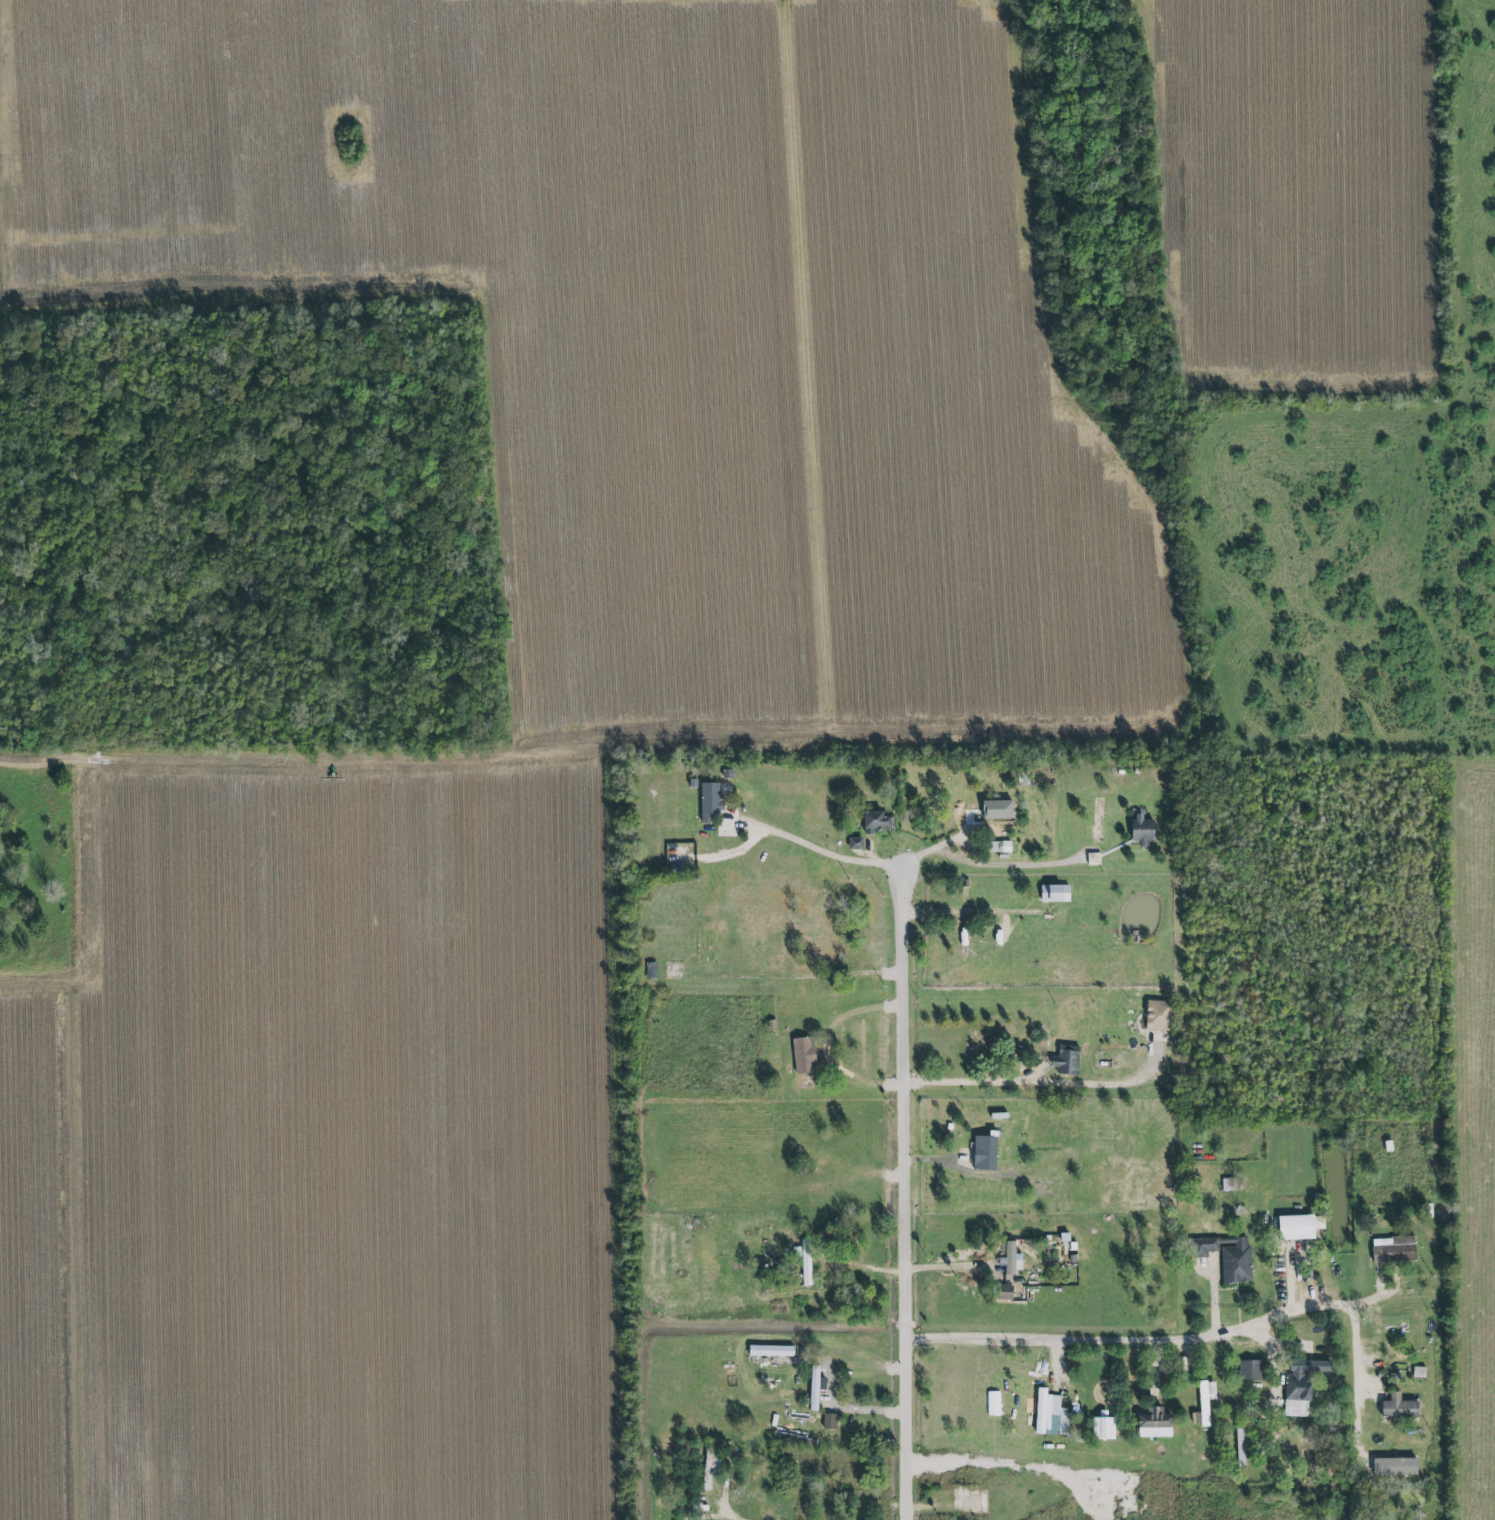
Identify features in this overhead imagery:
road: (343, 761)
building: (727, 773)
building: (712, 794)
building: (1000, 813)
building: (1098, 820)
building: (874, 821)
building: (1141, 830)
building: (855, 842)
road: (813, 846)
building: (999, 846)
building: (1093, 858)
road: (987, 864)
building: (1054, 893)
road: (787, 976)
building: (1157, 1015)
building: (802, 1056)
building: (1066, 1060)
road: (1030, 1081)
road: (854, 1082)
building: (984, 1152)
road: (903, 1189)
building: (1295, 1227)
building: (1393, 1249)
building: (1227, 1256)
building: (1009, 1259)
building: (1009, 1292)
road: (1147, 1341)
building: (770, 1351)
road: (1355, 1360)
road: (1056, 1368)
building: (1250, 1370)
building: (1300, 1386)
building: (814, 1387)
building: (1205, 1400)
road: (848, 1408)
building: (1398, 1408)
building: (1049, 1414)
building: (829, 1421)
building: (1153, 1424)
building: (1103, 1428)
building: (1394, 1467)
road: (729, 1514)

